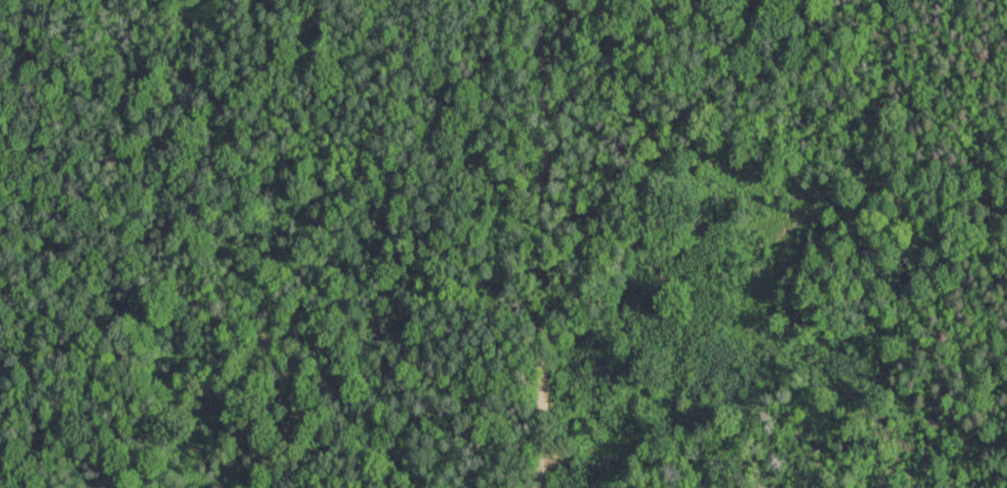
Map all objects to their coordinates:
road: (535, 244)

